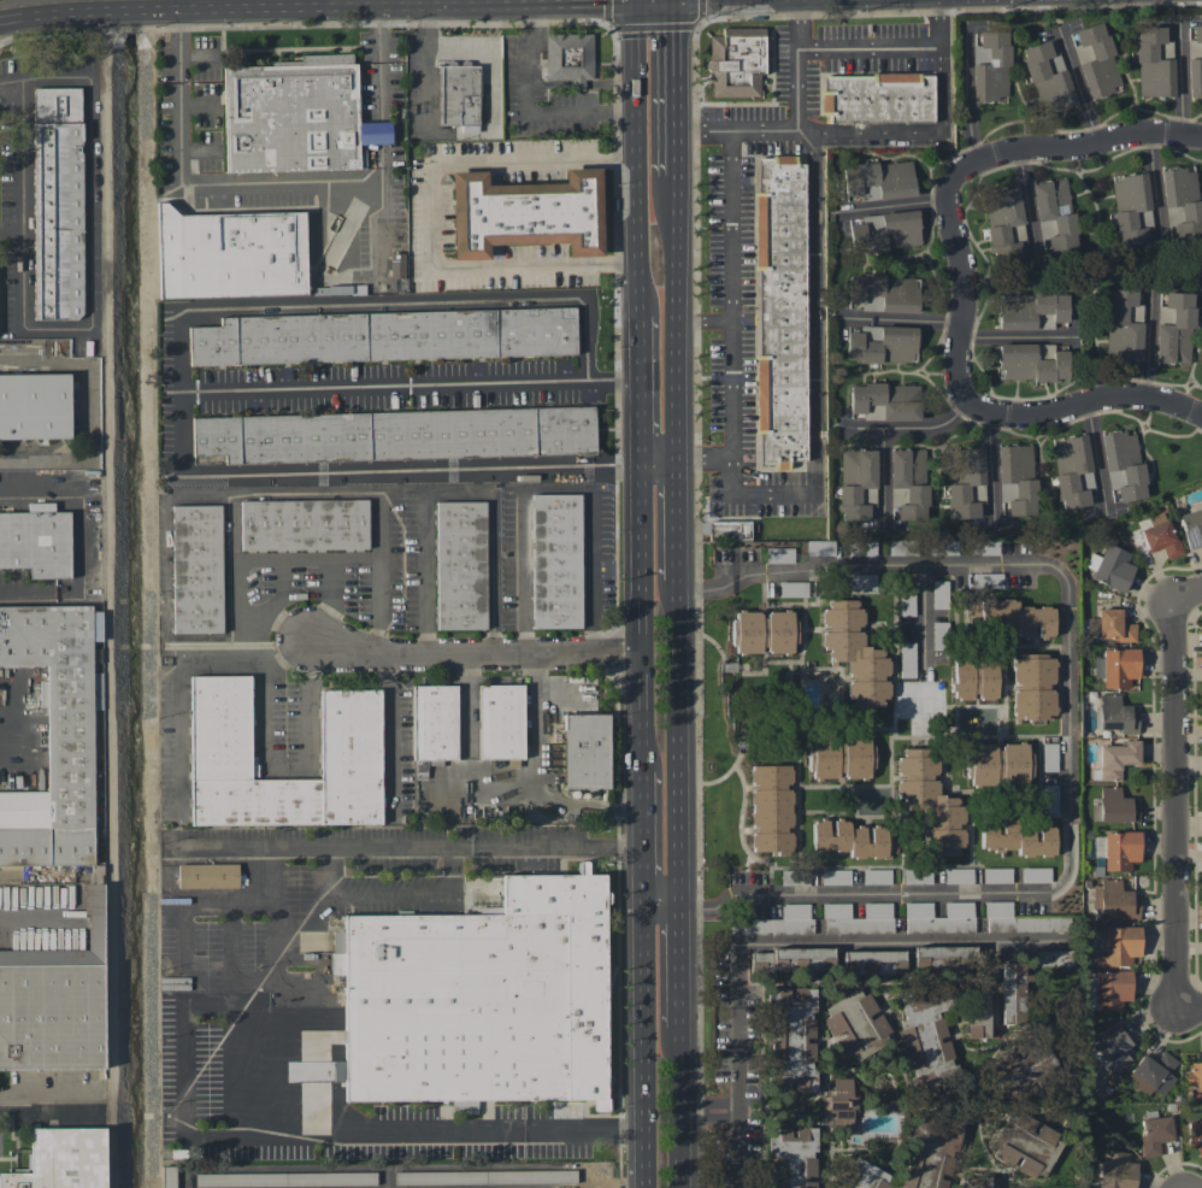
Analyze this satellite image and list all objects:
road: (526, 1)
road: (297, 4)
road: (87, 6)
road: (242, 8)
road: (796, 12)
road: (937, 17)
traffic signals: (676, 33)
building: (1197, 34)
road: (872, 48)
building: (570, 57)
building: (736, 61)
building: (1096, 61)
building: (1154, 63)
building: (990, 66)
building: (1047, 76)
road: (1182, 77)
building: (1194, 77)
road: (1078, 86)
road: (676, 89)
building: (459, 95)
road: (968, 96)
building: (877, 99)
road: (529, 111)
building: (291, 118)
road: (796, 122)
road: (691, 130)
road: (907, 130)
road: (1073, 148)
road: (638, 157)
road: (18, 161)
building: (879, 177)
road: (1155, 180)
road: (279, 187)
building: (867, 193)
road: (1030, 199)
building: (1183, 200)
building: (58, 205)
road: (891, 207)
building: (1131, 210)
building: (526, 213)
building: (1054, 213)
road: (430, 214)
building: (884, 231)
road: (89, 248)
building: (230, 254)
building: (396, 265)
building: (883, 292)
road: (962, 292)
road: (420, 302)
building: (871, 302)
building: (779, 308)
building: (1029, 308)
road: (814, 311)
road: (677, 320)
road: (705, 320)
road: (903, 323)
building: (1123, 325)
building: (1173, 329)
building: (384, 336)
building: (880, 343)
road: (178, 351)
road: (1145, 351)
road: (731, 353)
building: (1031, 361)
road: (613, 380)
road: (341, 387)
road: (640, 388)
building: (884, 401)
road: (1080, 404)
building: (34, 405)
road: (907, 434)
building: (396, 435)
building: (1123, 465)
road: (456, 469)
building: (1072, 471)
building: (1015, 478)
building: (856, 483)
building: (909, 484)
road: (558, 489)
road: (456, 493)
building: (897, 495)
road: (678, 510)
building: (305, 524)
building: (1191, 527)
building: (729, 530)
building: (1161, 539)
road: (78, 541)
building: (36, 543)
building: (862, 547)
building: (902, 547)
building: (943, 547)
building: (984, 547)
building: (820, 548)
building: (778, 555)
road: (263, 559)
road: (325, 559)
building: (556, 560)
building: (461, 565)
building: (1110, 567)
building: (198, 569)
road: (678, 571)
road: (237, 577)
building: (860, 581)
building: (793, 589)
road: (1186, 590)
building: (939, 594)
building: (906, 601)
road: (332, 602)
building: (1010, 617)
road: (924, 621)
road: (641, 625)
building: (1109, 627)
building: (762, 631)
road: (475, 653)
building: (855, 653)
road: (232, 659)
building: (907, 659)
building: (1119, 667)
building: (973, 680)
building: (1033, 687)
road: (306, 702)
road: (263, 705)
road: (391, 710)
building: (1116, 714)
road: (466, 718)
building: (435, 722)
building: (501, 722)
road: (1070, 725)
building: (220, 735)
building: (53, 739)
road: (680, 746)
building: (585, 751)
building: (839, 757)
building: (1048, 757)
building: (1115, 759)
building: (997, 764)
building: (925, 787)
building: (1049, 799)
road: (1173, 802)
building: (1115, 806)
building: (771, 808)
building: (848, 839)
building: (1020, 840)
building: (944, 841)
road: (409, 846)
road: (643, 847)
building: (1116, 849)
building: (36, 874)
building: (207, 875)
building: (958, 875)
building: (996, 875)
building: (835, 876)
building: (876, 876)
building: (917, 876)
building: (794, 877)
road: (388, 893)
road: (272, 898)
building: (1115, 901)
road: (198, 902)
road: (661, 907)
building: (938, 917)
building: (858, 918)
building: (1020, 919)
building: (778, 922)
road: (839, 942)
road: (230, 943)
building: (1120, 945)
road: (680, 955)
building: (943, 957)
building: (1054, 958)
building: (791, 959)
building: (872, 961)
building: (1107, 990)
building: (1010, 994)
building: (481, 998)
road: (1189, 1004)
building: (977, 1012)
building: (52, 1016)
building: (855, 1024)
building: (791, 1040)
building: (926, 1043)
building: (1114, 1047)
road: (644, 1048)
building: (337, 1054)
building: (1021, 1066)
building: (1154, 1074)
road: (183, 1075)
building: (1194, 1075)
road: (742, 1083)
road: (682, 1095)
road: (43, 1099)
building: (838, 1104)
road: (712, 1117)
road: (420, 1130)
building: (1154, 1134)
building: (1194, 1136)
road: (743, 1139)
building: (1024, 1143)
building: (790, 1157)
building: (63, 1159)
building: (909, 1168)
building: (1115, 1170)
road: (742, 1175)
building: (169, 1176)
building: (865, 1176)
building: (487, 1177)
building: (285, 1178)
building: (978, 1182)

